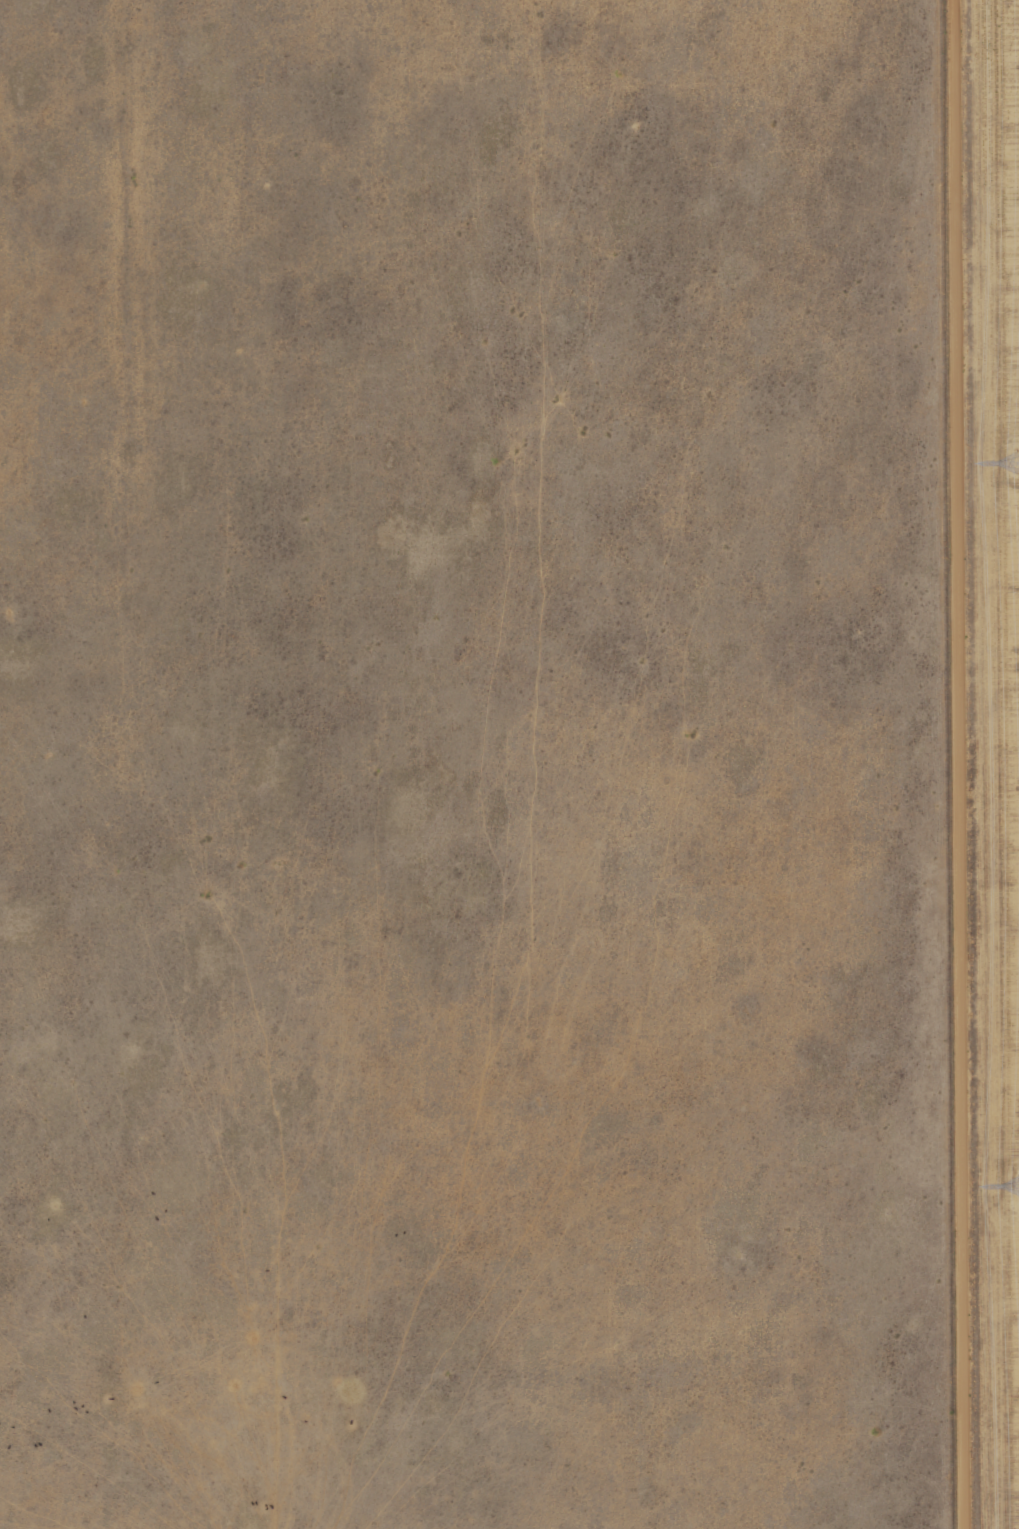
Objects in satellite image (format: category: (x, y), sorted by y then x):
road: (959, 764)

